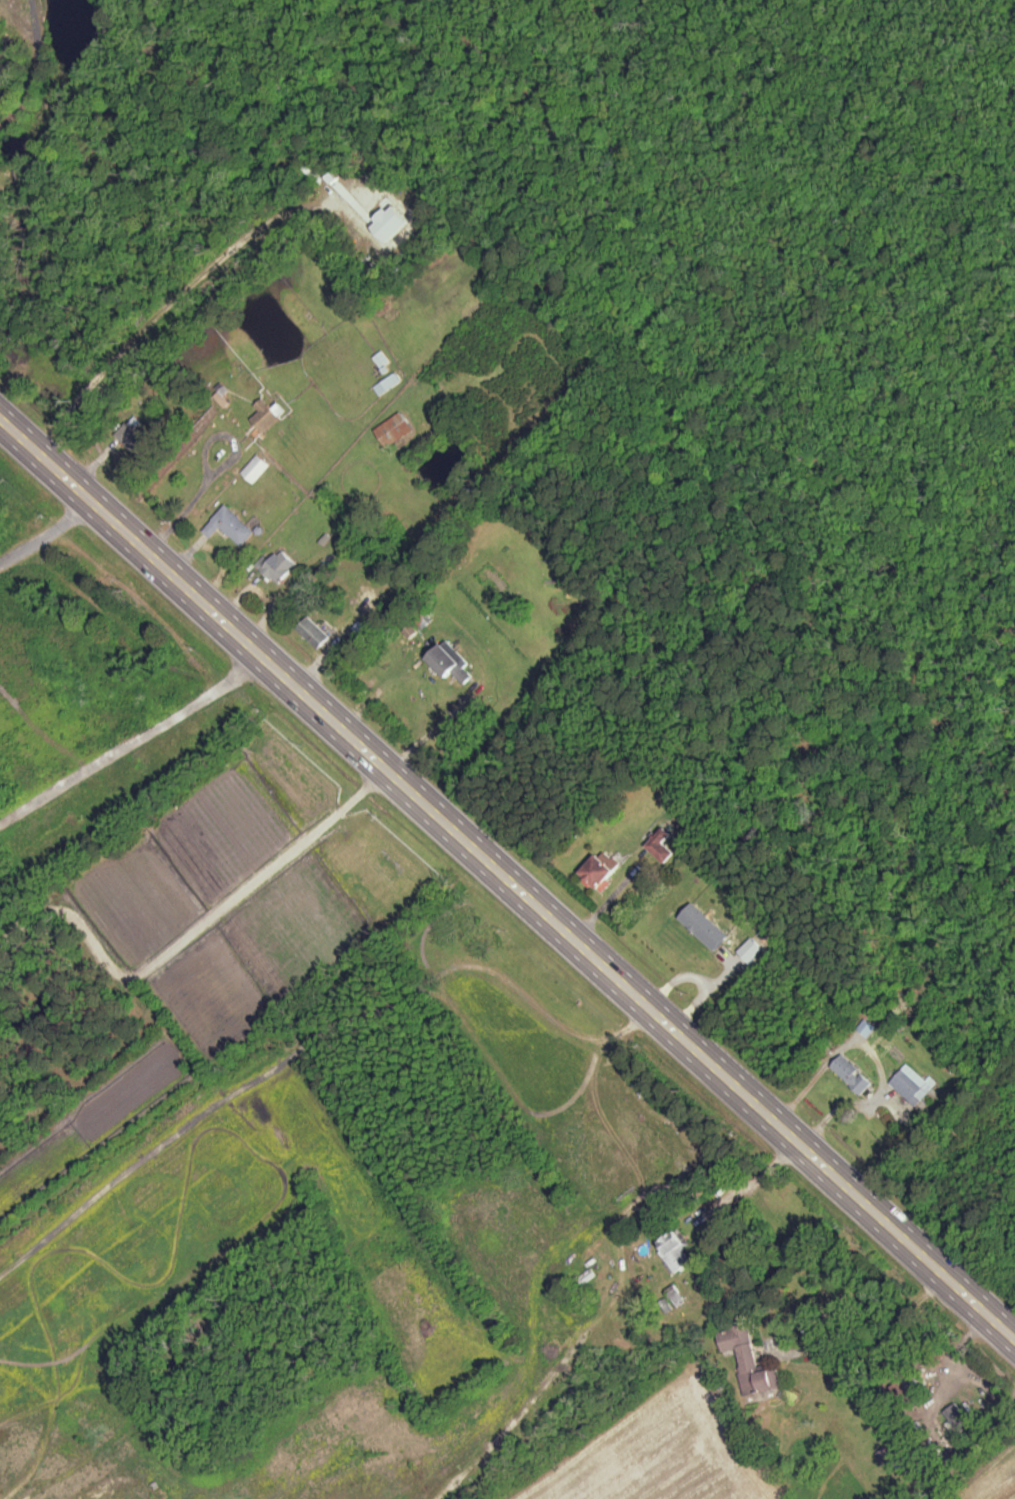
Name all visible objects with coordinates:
building: (388, 383)
building: (136, 398)
building: (266, 414)
building: (395, 428)
building: (135, 439)
building: (256, 468)
building: (230, 525)
road: (47, 532)
building: (279, 566)
building: (315, 633)
road: (563, 640)
building: (451, 663)
road: (135, 744)
building: (664, 845)
building: (603, 869)
road: (505, 880)
building: (852, 1074)
building: (912, 1085)
building: (676, 1251)
building: (750, 1361)
building: (917, 1382)
building: (959, 1418)
building: (893, 1456)
building: (160, 1494)

